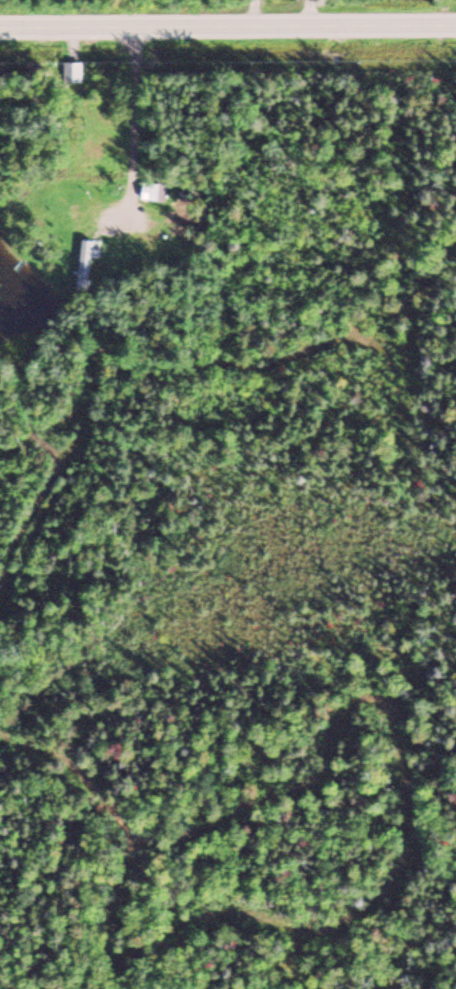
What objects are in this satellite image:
road: (228, 25)
building: (73, 70)
building: (155, 191)
building: (86, 263)

